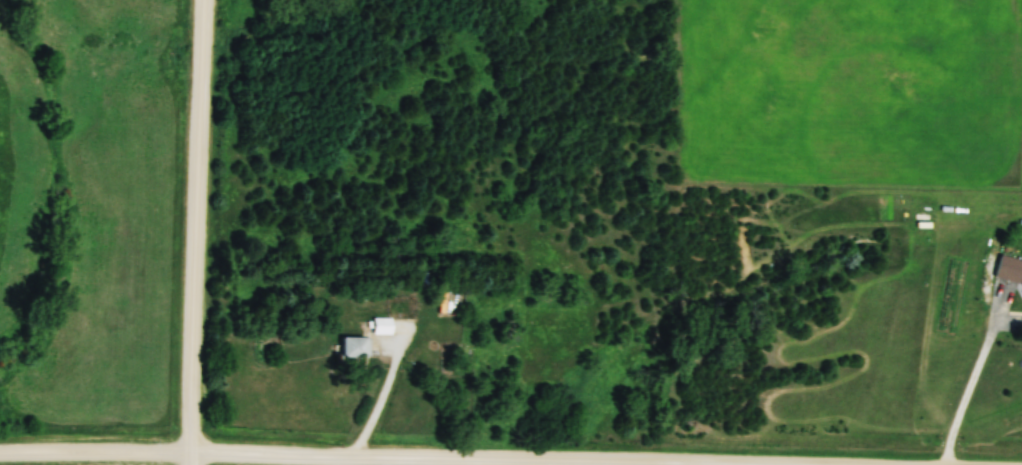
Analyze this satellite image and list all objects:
road: (198, 225)
building: (1010, 269)
building: (430, 279)
building: (382, 326)
building: (356, 348)
road: (974, 376)
road: (96, 450)
road: (191, 457)
road: (472, 457)

